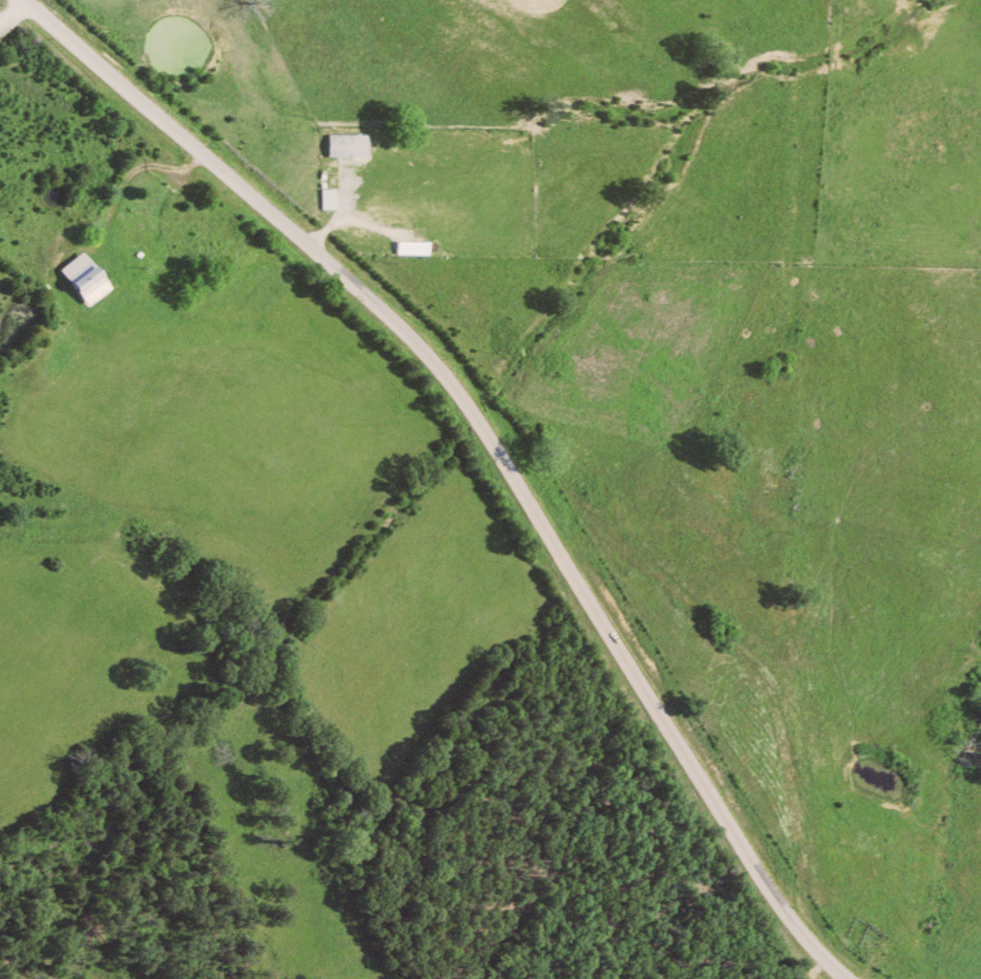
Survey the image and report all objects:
road: (13, 9)
road: (48, 19)
building: (353, 144)
road: (136, 170)
building: (89, 277)
road: (502, 469)

